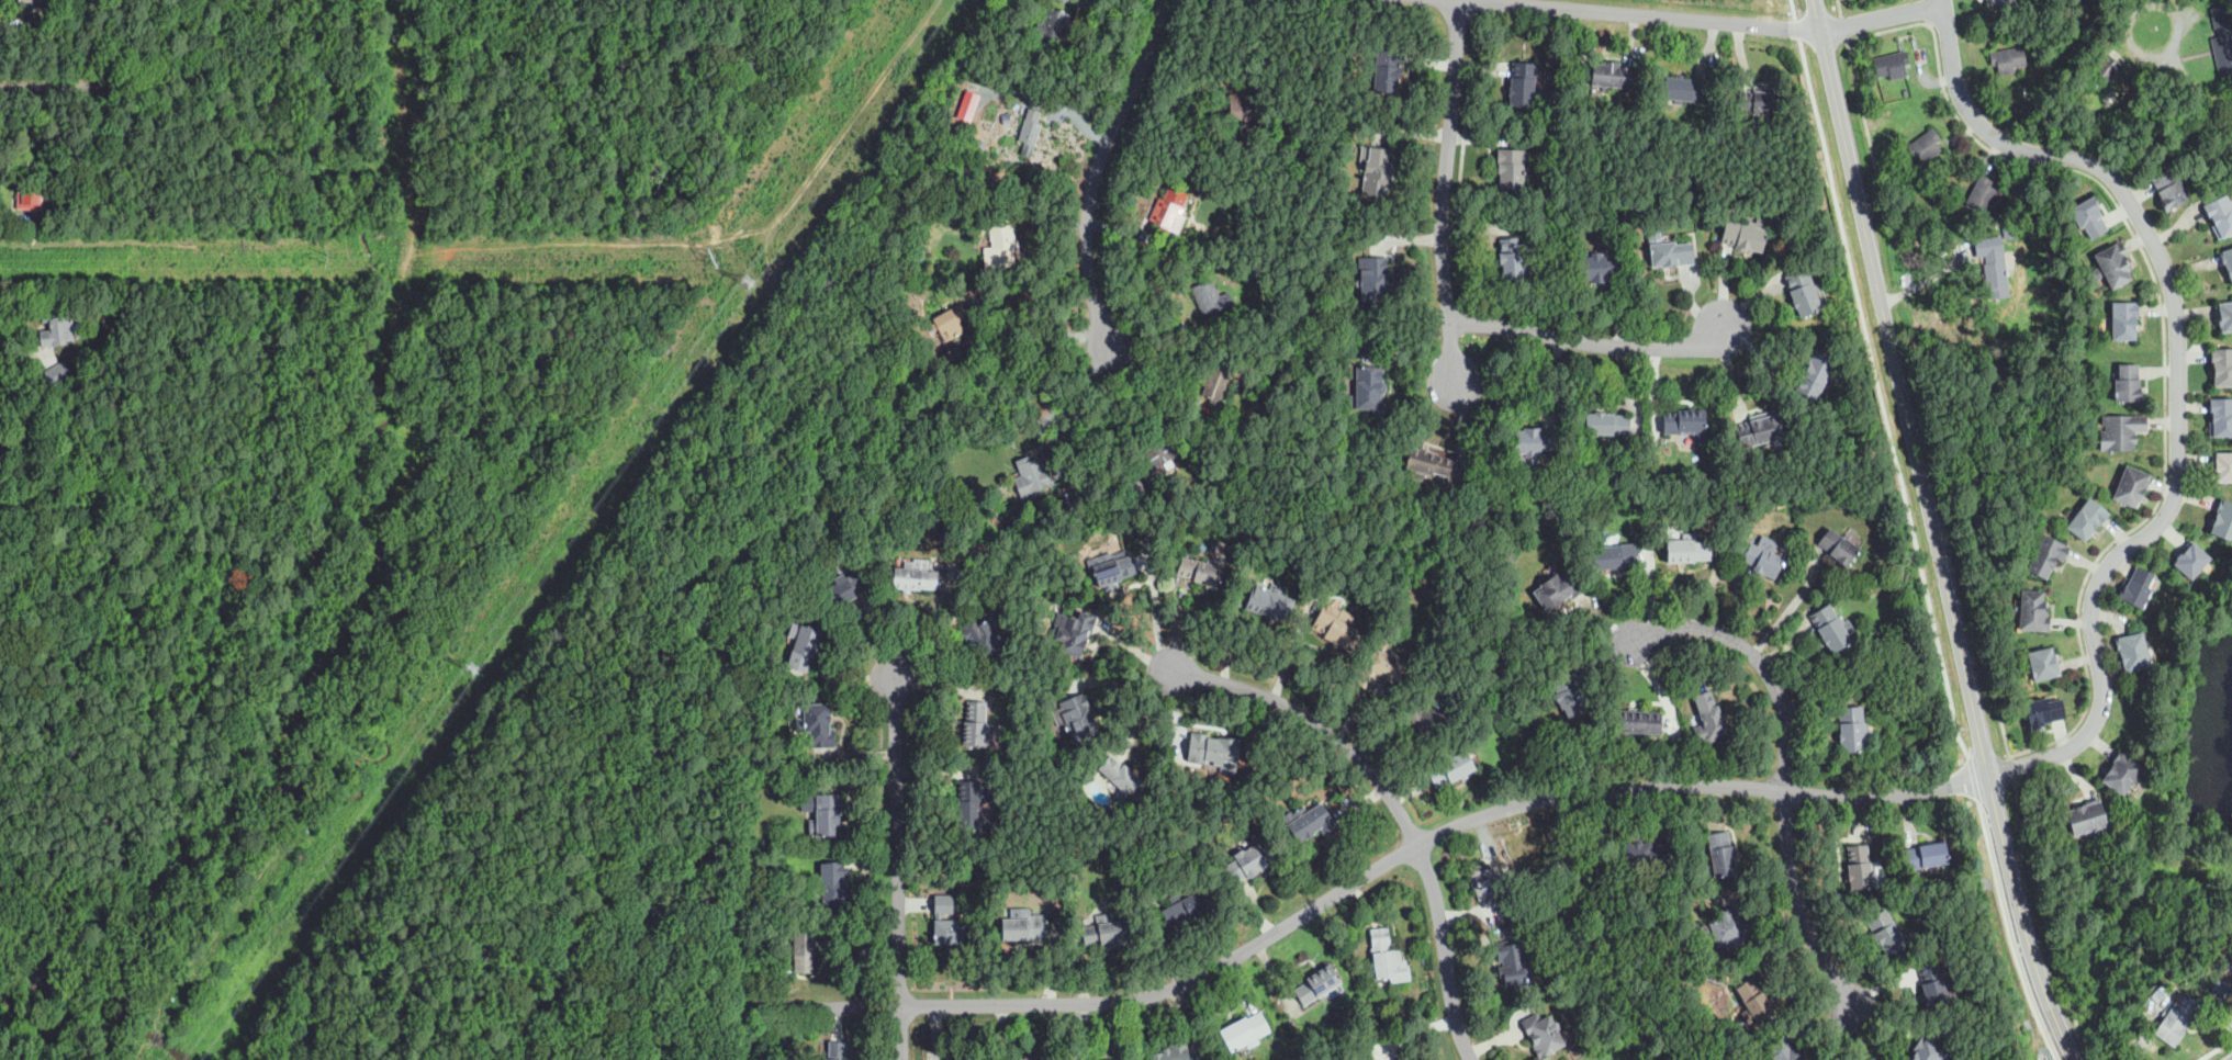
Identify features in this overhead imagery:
road: (1941, 1)
building: (2000, 2)
building: (32, 3)
road: (2139, 7)
road: (1657, 14)
road: (1882, 16)
building: (2222, 16)
building: (35, 22)
building: (1053, 26)
building: (2042, 48)
building: (2224, 54)
building: (1039, 59)
building: (2008, 59)
building: (1892, 65)
building: (2106, 66)
building: (1387, 70)
building: (1612, 75)
building: (2083, 84)
road: (51, 87)
building: (1526, 87)
building: (1685, 90)
road: (2198, 92)
building: (1759, 102)
building: (965, 103)
building: (1247, 106)
building: (1007, 120)
building: (1030, 132)
building: (978, 144)
building: (1926, 147)
road: (1460, 161)
road: (1098, 167)
building: (1511, 169)
building: (1376, 170)
building: (1211, 184)
building: (2169, 189)
building: (30, 191)
road: (1442, 192)
building: (1983, 195)
building: (1169, 208)
building: (2221, 215)
building: (1997, 217)
building: (2089, 217)
building: (2007, 232)
building: (1743, 237)
building: (998, 245)
building: (1669, 251)
building: (1513, 257)
building: (2228, 261)
building: (2115, 264)
building: (1993, 267)
building: (1600, 268)
building: (1372, 279)
road: (1925, 281)
power tower: (752, 285)
building: (1804, 293)
building: (1207, 296)
building: (2224, 316)
building: (2124, 320)
building: (952, 322)
building: (57, 328)
road: (1038, 332)
road: (1591, 340)
building: (953, 357)
building: (2222, 367)
building: (60, 373)
building: (1815, 374)
building: (1215, 382)
building: (2129, 384)
road: (2178, 385)
building: (1369, 390)
road: (1134, 397)
building: (1054, 402)
road: (1080, 404)
building: (1266, 406)
building: (2221, 418)
building: (1683, 421)
building: (1605, 426)
building: (1, 428)
building: (1759, 430)
building: (2122, 431)
building: (1533, 443)
building: (1158, 453)
building: (1426, 463)
building: (2222, 466)
building: (1031, 472)
building: (2132, 486)
building: (1137, 487)
building: (1064, 501)
building: (1875, 507)
building: (2088, 519)
building: (2223, 521)
road: (1915, 532)
road: (1929, 533)
building: (1768, 542)
building: (1839, 546)
building: (1687, 550)
building: (1614, 556)
building: (2048, 556)
building: (1762, 560)
building: (2191, 560)
building: (1113, 571)
building: (1201, 572)
building: (913, 577)
building: (844, 588)
building: (1558, 588)
building: (2136, 588)
building: (1271, 604)
road: (1788, 607)
building: (2034, 611)
road: (1156, 618)
building: (1336, 625)
building: (1831, 628)
building: (1075, 632)
building: (984, 640)
building: (803, 645)
building: (2133, 653)
building: (2044, 664)
power tower: (471, 666)
road: (1760, 667)
building: (1380, 668)
road: (1034, 673)
building: (1569, 695)
building: (2044, 712)
building: (1078, 717)
building: (1708, 718)
building: (1421, 721)
building: (1638, 722)
building: (817, 725)
road: (1317, 725)
building: (977, 728)
building: (1852, 729)
building: (1210, 748)
building: (1450, 769)
building: (2122, 774)
building: (1121, 778)
building: (974, 805)
building: (823, 813)
building: (2087, 817)
building: (1311, 821)
road: (900, 842)
building: (1720, 854)
building: (1645, 855)
building: (1926, 856)
building: (1250, 860)
building: (1859, 867)
road: (1357, 880)
building: (830, 883)
building: (1493, 887)
building: (1189, 905)
road: (1797, 906)
building: (946, 923)
building: (1024, 926)
building: (1727, 931)
road: (229, 932)
building: (1885, 934)
building: (1104, 935)
building: (805, 950)
road: (1446, 950)
building: (1388, 957)
building: (1513, 962)
building: (1319, 982)
building: (1933, 986)
building: (2221, 986)
building: (1754, 1003)
building: (2177, 1019)
road: (47, 1029)
building: (1244, 1031)
road: (901, 1033)
building: (1543, 1035)
road: (2213, 1047)
building: (835, 1050)
building: (1784, 1051)
building: (1928, 1051)
building: (1173, 1052)
building: (1393, 1059)

